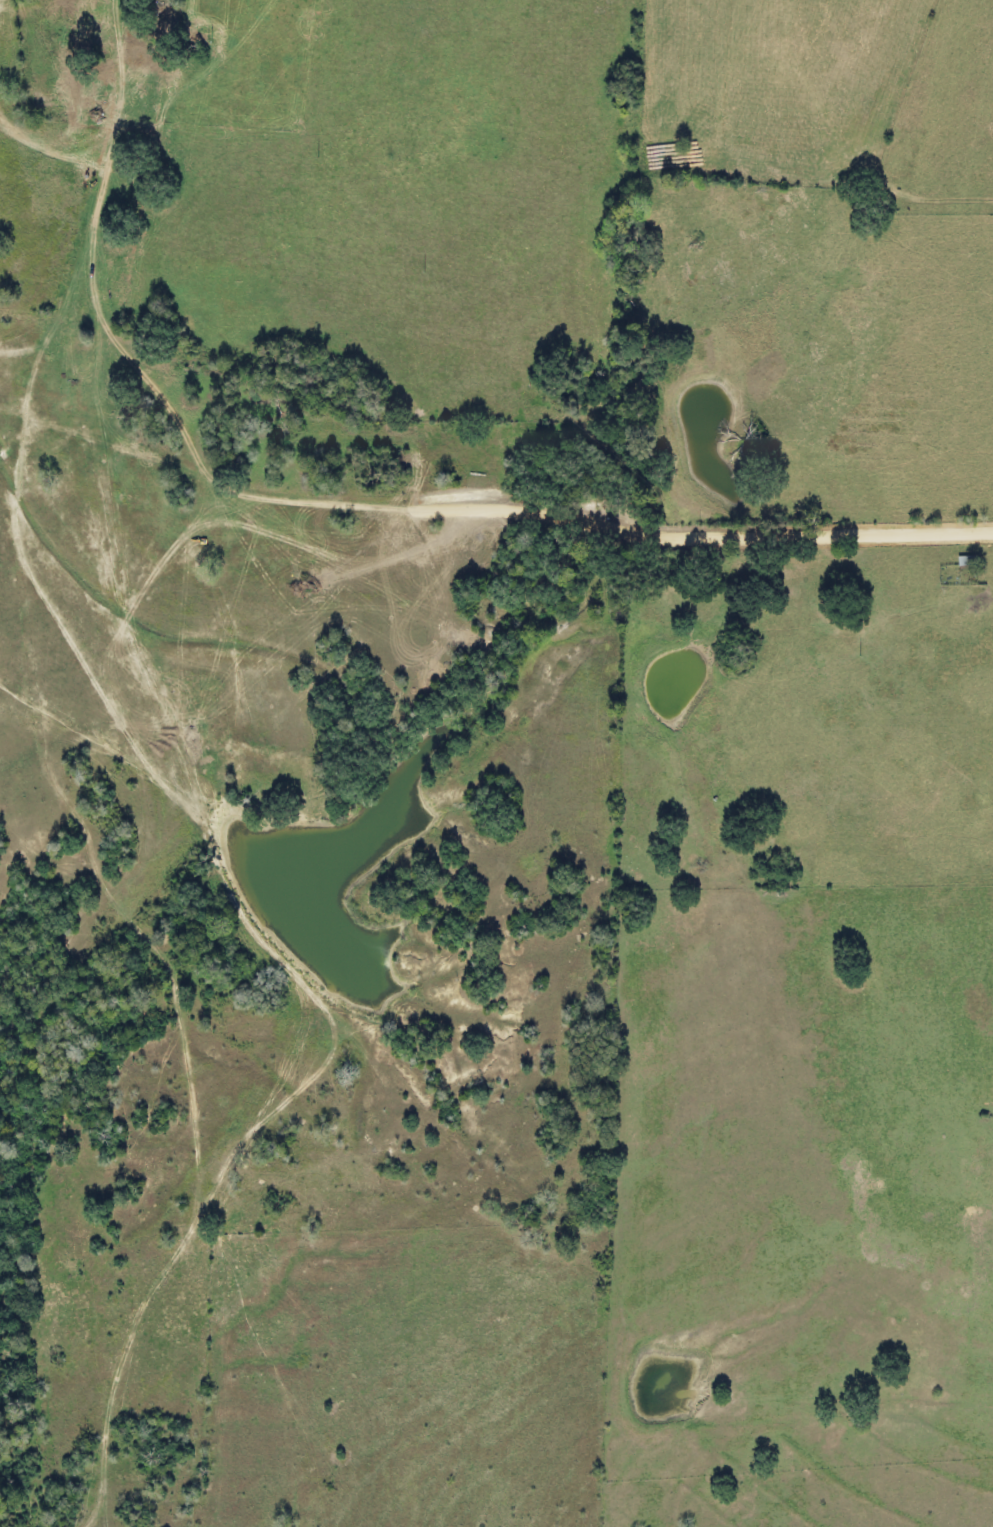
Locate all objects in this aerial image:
road: (1, 2)
road: (363, 504)
building: (967, 560)

